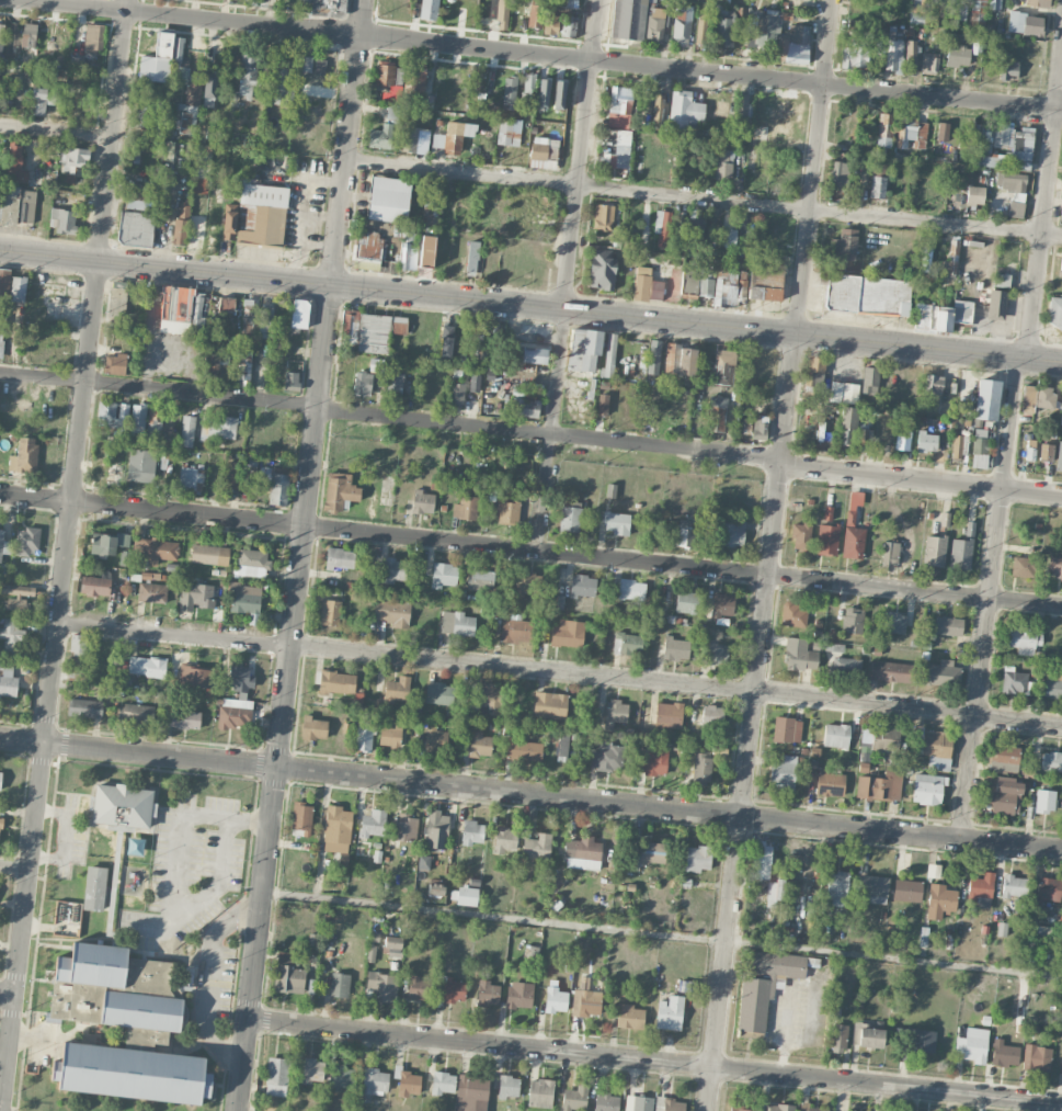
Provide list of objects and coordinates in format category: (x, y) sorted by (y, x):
building: (304, 1)
building: (536, 1)
building: (936, 2)
building: (562, 3)
building: (994, 3)
building: (1037, 3)
building: (429, 9)
building: (494, 9)
building: (957, 11)
building: (918, 12)
building: (977, 13)
building: (535, 15)
building: (629, 19)
building: (1025, 24)
building: (550, 25)
building: (569, 25)
building: (682, 25)
building: (723, 26)
building: (763, 27)
building: (654, 29)
building: (700, 31)
building: (93, 38)
building: (1, 39)
building: (27, 39)
building: (796, 45)
building: (975, 46)
road: (539, 55)
building: (854, 55)
building: (892, 55)
building: (911, 55)
building: (958, 55)
building: (306, 64)
building: (929, 64)
building: (1007, 66)
building: (320, 67)
building: (173, 77)
building: (415, 79)
building: (247, 80)
building: (387, 81)
building: (210, 84)
building: (283, 86)
building: (528, 87)
building: (509, 92)
building: (543, 93)
building: (559, 94)
building: (42, 99)
building: (658, 106)
building: (619, 107)
building: (743, 110)
building: (684, 111)
building: (144, 114)
building: (887, 128)
building: (941, 132)
road: (58, 133)
building: (509, 133)
building: (912, 133)
building: (453, 137)
building: (409, 138)
building: (1002, 147)
building: (136, 148)
building: (169, 148)
building: (619, 151)
building: (544, 152)
building: (73, 158)
building: (15, 163)
building: (722, 163)
building: (877, 168)
building: (840, 175)
building: (1009, 182)
building: (878, 186)
building: (974, 195)
building: (389, 199)
building: (0, 200)
building: (138, 200)
road: (704, 200)
building: (27, 205)
building: (1015, 208)
building: (429, 212)
building: (256, 215)
road: (1044, 215)
building: (603, 216)
building: (1061, 216)
building: (62, 219)
building: (135, 228)
building: (663, 228)
building: (180, 231)
building: (695, 234)
building: (728, 237)
building: (743, 240)
building: (366, 245)
building: (844, 246)
building: (426, 251)
building: (408, 257)
building: (472, 258)
building: (925, 259)
building: (951, 259)
building: (673, 267)
building: (601, 269)
road: (569, 276)
building: (1003, 280)
building: (697, 282)
building: (765, 282)
building: (4, 283)
building: (642, 283)
building: (18, 288)
building: (656, 290)
building: (724, 293)
building: (867, 294)
building: (116, 301)
building: (996, 304)
road: (530, 307)
building: (175, 309)
building: (198, 311)
building: (961, 311)
building: (300, 313)
building: (226, 314)
building: (1055, 314)
building: (933, 317)
building: (248, 318)
building: (266, 320)
building: (351, 326)
building: (378, 331)
building: (1, 339)
building: (446, 342)
building: (479, 345)
building: (583, 349)
building: (534, 354)
building: (609, 356)
building: (653, 356)
building: (680, 360)
building: (213, 361)
building: (243, 362)
building: (115, 363)
building: (375, 364)
building: (723, 366)
building: (814, 369)
building: (393, 379)
building: (869, 379)
building: (290, 381)
building: (362, 383)
building: (475, 383)
building: (933, 383)
building: (844, 393)
building: (457, 394)
building: (1037, 397)
building: (986, 399)
building: (525, 408)
road: (390, 413)
building: (716, 413)
building: (113, 415)
building: (1061, 417)
building: (138, 418)
building: (155, 420)
building: (760, 427)
building: (219, 428)
building: (845, 430)
building: (187, 431)
building: (822, 431)
building: (863, 438)
building: (902, 441)
building: (957, 446)
building: (1030, 450)
building: (1046, 452)
building: (980, 453)
building: (25, 455)
building: (1059, 455)
building: (140, 465)
building: (115, 472)
building: (231, 475)
building: (190, 477)
road: (921, 478)
building: (274, 488)
building: (610, 490)
building: (340, 491)
building: (422, 502)
building: (465, 507)
building: (509, 512)
building: (570, 519)
building: (616, 522)
building: (853, 529)
building: (732, 533)
building: (684, 536)
building: (801, 536)
building: (826, 539)
building: (26, 541)
building: (107, 543)
building: (4, 545)
building: (155, 549)
building: (934, 551)
building: (961, 551)
road: (530, 553)
building: (209, 554)
road: (67, 555)
road: (301, 555)
road: (772, 555)
building: (889, 556)
building: (340, 558)
building: (252, 563)
building: (1020, 566)
building: (1054, 567)
building: (395, 570)
building: (444, 574)
building: (481, 578)
building: (526, 583)
building: (95, 586)
building: (583, 586)
building: (631, 589)
building: (151, 592)
building: (196, 597)
building: (16, 598)
road: (990, 600)
building: (245, 601)
building: (686, 602)
building: (722, 604)
building: (391, 611)
building: (330, 612)
building: (795, 615)
building: (852, 620)
building: (893, 622)
building: (457, 623)
building: (948, 625)
building: (515, 627)
building: (568, 633)
road: (175, 635)
building: (10, 637)
building: (1024, 638)
building: (627, 643)
building: (78, 647)
building: (676, 648)
building: (718, 653)
building: (799, 655)
building: (838, 660)
building: (147, 666)
building: (892, 671)
building: (938, 673)
building: (197, 678)
building: (241, 678)
building: (8, 680)
building: (1014, 680)
building: (335, 682)
road: (676, 684)
building: (1052, 685)
building: (397, 690)
building: (438, 693)
building: (483, 698)
building: (550, 705)
building: (84, 707)
building: (235, 712)
building: (616, 712)
building: (135, 713)
building: (669, 714)
building: (712, 714)
building: (182, 718)
building: (313, 728)
building: (787, 729)
building: (836, 735)
building: (390, 736)
building: (364, 737)
building: (435, 739)
building: (884, 740)
building: (479, 744)
building: (562, 744)
building: (934, 747)
building: (524, 751)
building: (1003, 753)
building: (607, 757)
building: (651, 761)
building: (1051, 761)
building: (701, 768)
building: (783, 773)
building: (0, 779)
building: (830, 784)
building: (880, 786)
building: (927, 789)
building: (1002, 794)
road: (530, 796)
building: (1044, 801)
building: (121, 805)
building: (1, 809)
building: (301, 819)
building: (373, 823)
building: (0, 827)
building: (404, 827)
building: (436, 829)
building: (338, 831)
building: (472, 832)
building: (505, 840)
building: (537, 847)
building: (653, 852)
building: (584, 854)
building: (697, 858)
building: (761, 860)
building: (423, 863)
road: (15, 866)
building: (981, 886)
building: (1014, 886)
building: (94, 887)
building: (436, 888)
building: (837, 888)
building: (872, 888)
building: (1048, 889)
building: (907, 891)
building: (775, 892)
building: (467, 896)
building: (940, 900)
building: (1042, 931)
road: (662, 934)
building: (392, 946)
building: (530, 952)
building: (288, 975)
road: (210, 983)
building: (340, 985)
building: (764, 986)
building: (380, 987)
building: (418, 987)
building: (449, 989)
building: (116, 993)
road: (8, 994)
building: (488, 994)
building: (519, 995)
building: (556, 1000)
building: (585, 1000)
building: (670, 1012)
building: (629, 1016)
building: (1060, 1022)
building: (855, 1035)
building: (837, 1038)
building: (870, 1038)
building: (917, 1040)
building: (971, 1048)
building: (1004, 1054)
building: (1036, 1057)
road: (654, 1059)
building: (312, 1070)
building: (132, 1073)
building: (277, 1076)
building: (341, 1077)
building: (374, 1082)
building: (443, 1082)
building: (409, 1084)
building: (509, 1086)
building: (540, 1092)
building: (471, 1093)
building: (574, 1098)
building: (606, 1102)
building: (638, 1103)
building: (669, 1104)
building: (803, 1104)
building: (779, 1107)
building: (739, 1109)
building: (849, 1110)

